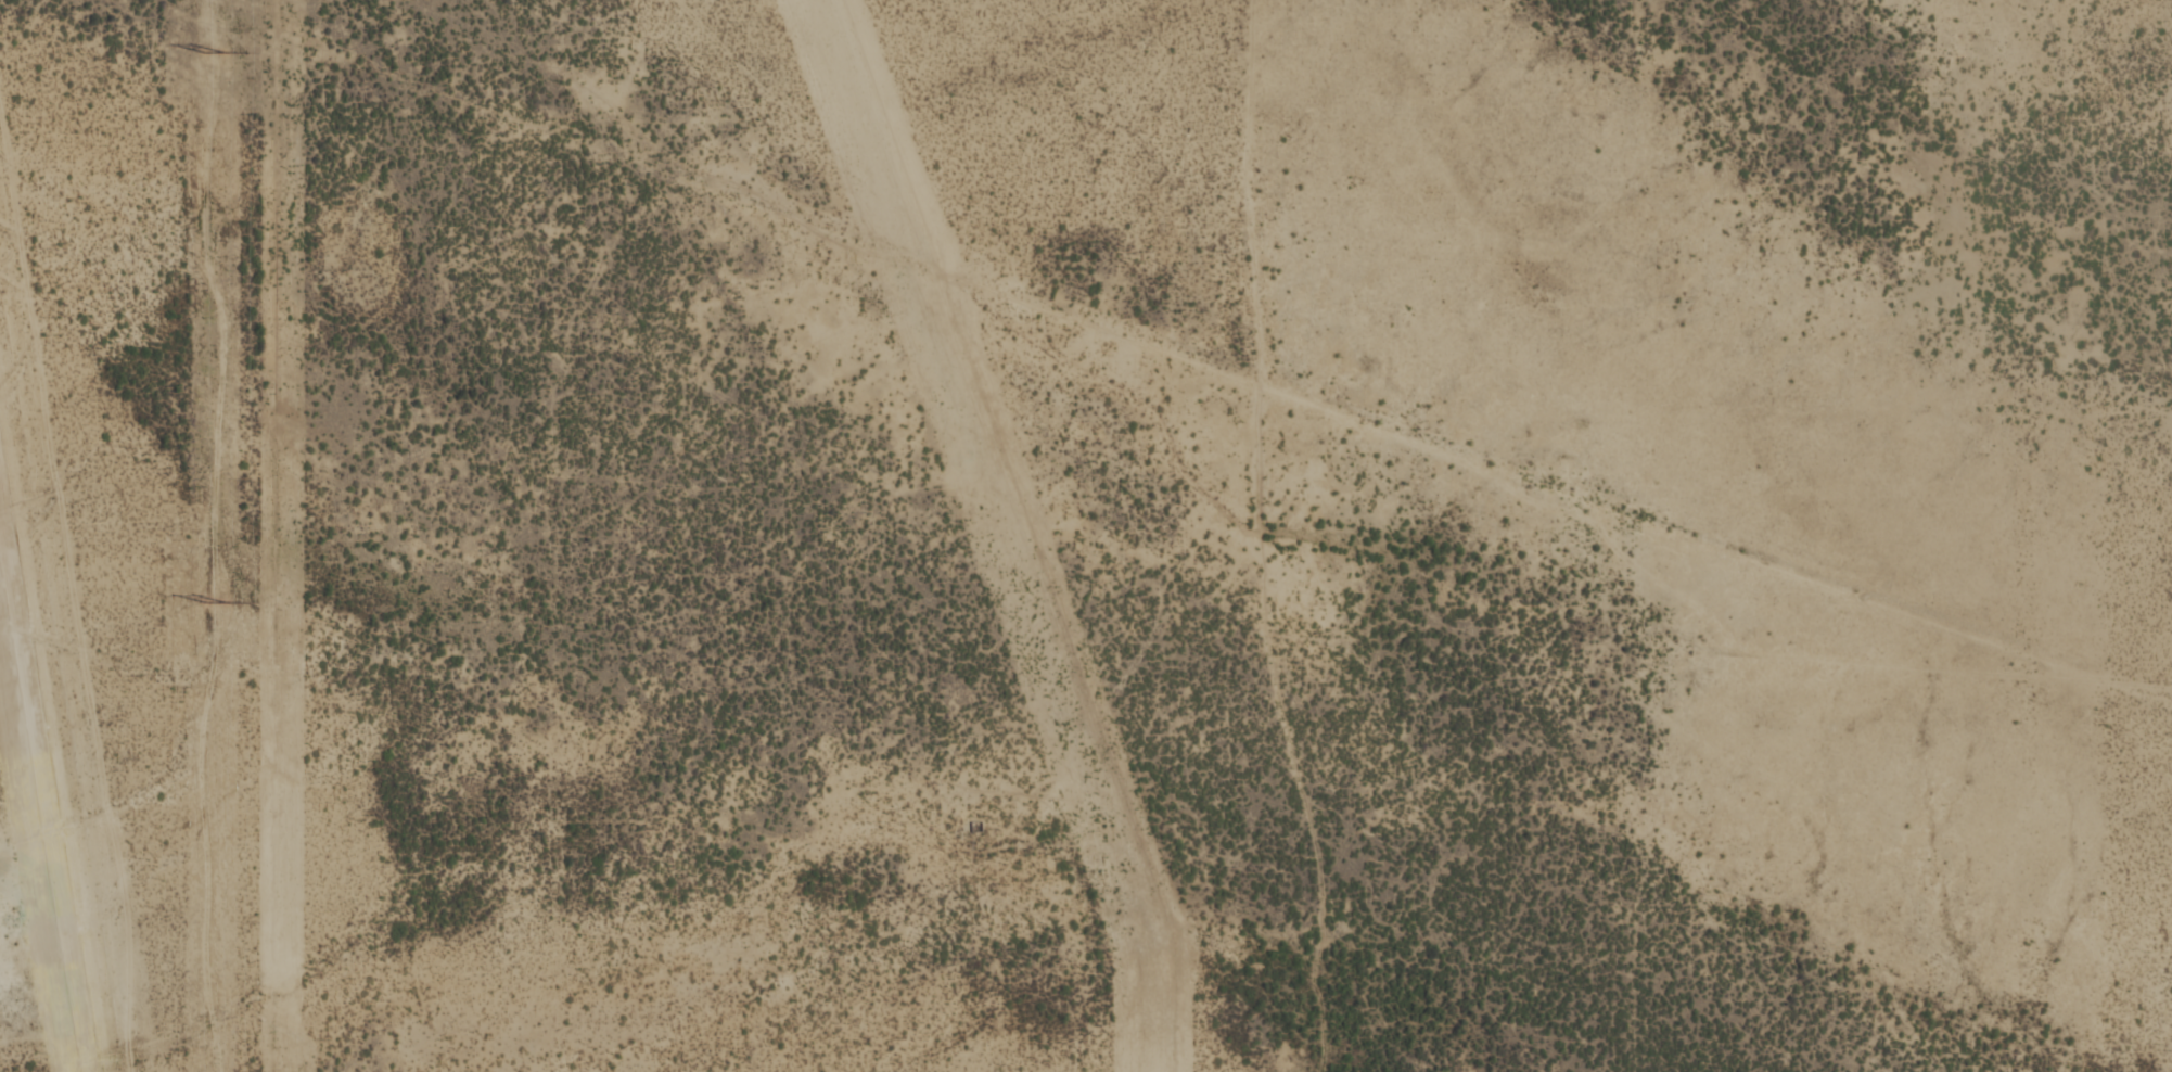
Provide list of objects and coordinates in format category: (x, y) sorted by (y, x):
power tower: (205, 50)
power tower: (205, 602)
road: (5, 1013)

